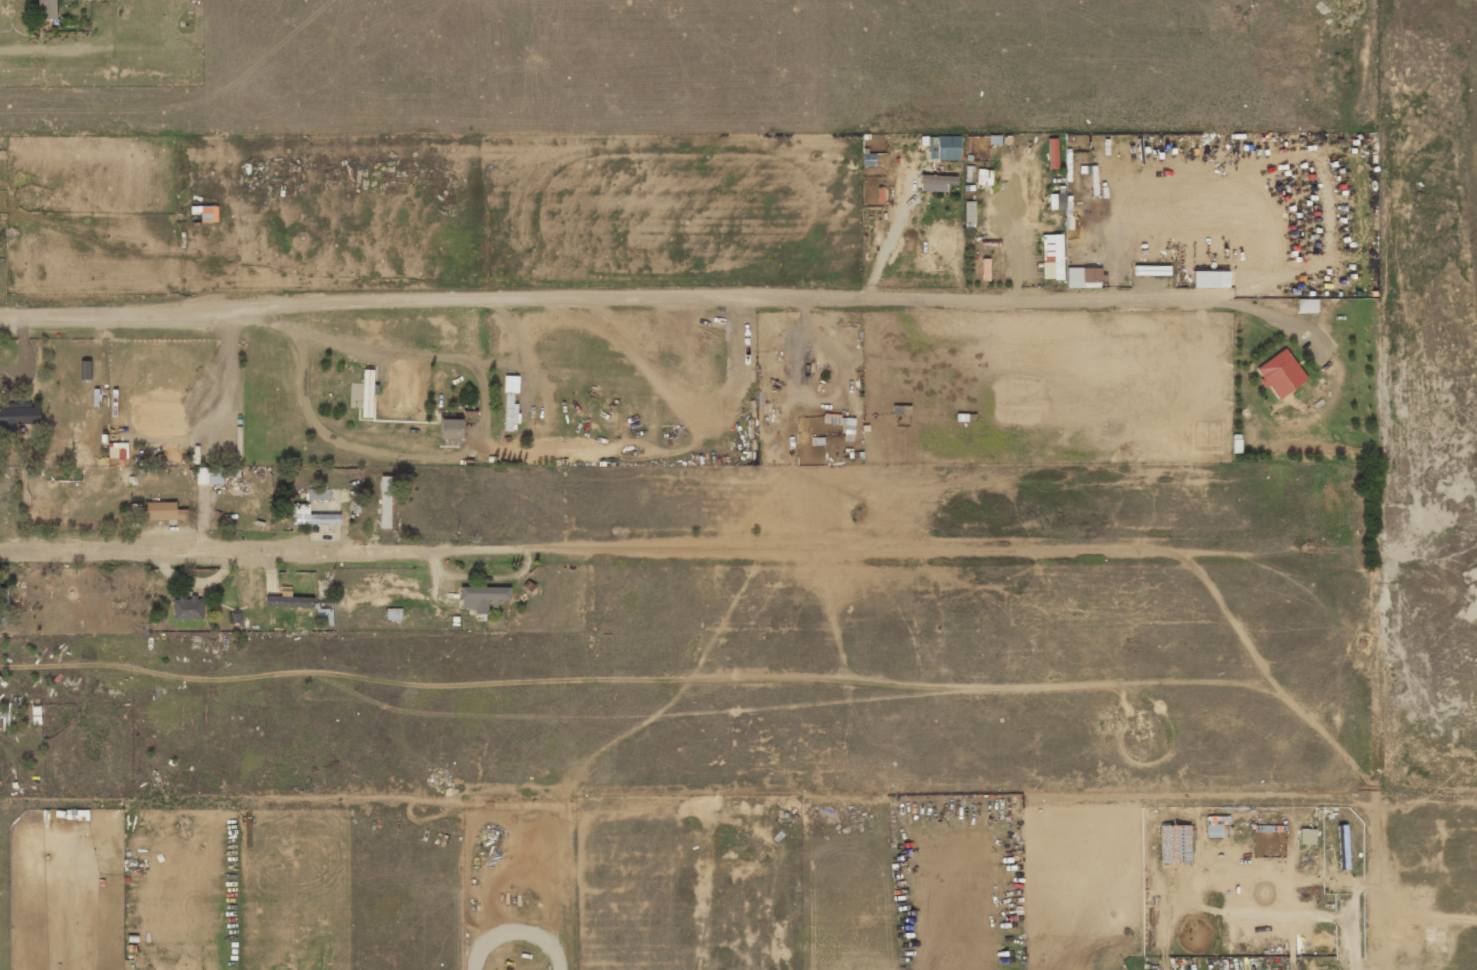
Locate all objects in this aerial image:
building: (47, 9)
building: (1052, 153)
building: (984, 177)
building: (937, 179)
building: (1056, 201)
building: (1051, 256)
building: (1084, 276)
building: (1209, 279)
road: (675, 297)
building: (1306, 305)
building: (1280, 374)
building: (510, 403)
building: (19, 414)
building: (450, 431)
building: (847, 432)
building: (1236, 445)
building: (117, 450)
building: (209, 476)
building: (318, 494)
building: (385, 502)
building: (163, 511)
building: (312, 516)
road: (256, 550)
building: (481, 597)
building: (289, 601)
building: (3, 607)
building: (187, 608)
building: (392, 614)
building: (1307, 836)
building: (1174, 844)

